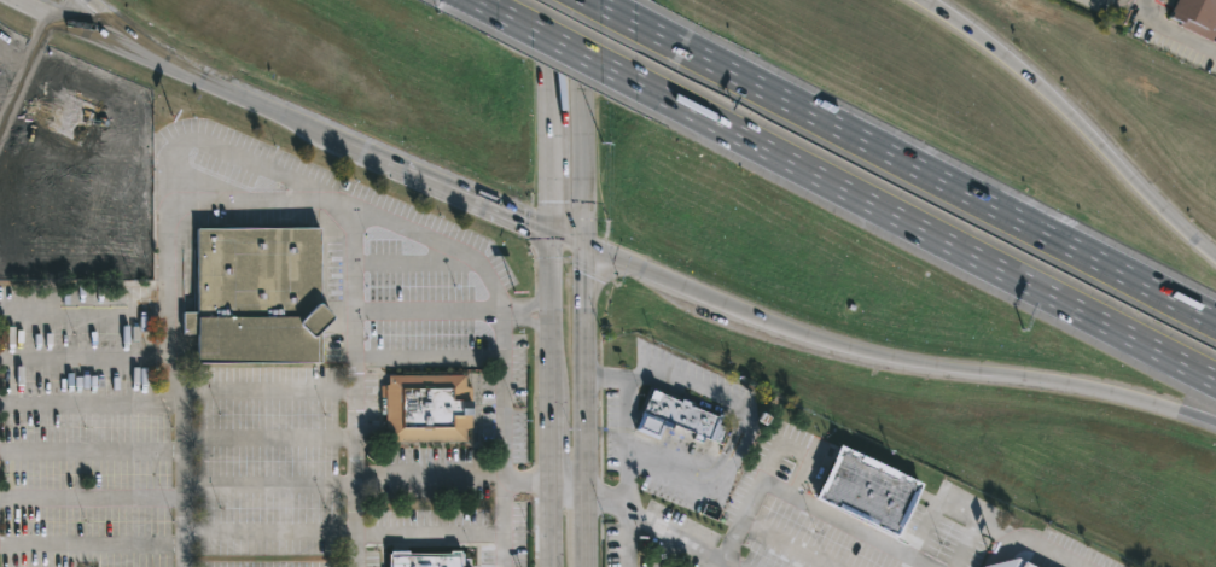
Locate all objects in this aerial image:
road: (93, 5)
road: (488, 5)
road: (34, 7)
road: (615, 11)
building: (1193, 14)
road: (583, 16)
road: (1173, 28)
road: (130, 34)
road: (39, 37)
road: (548, 43)
road: (568, 46)
road: (199, 76)
road: (14, 95)
building: (70, 113)
road: (1076, 122)
road: (120, 131)
road: (192, 141)
road: (547, 158)
road: (926, 171)
road: (465, 195)
traffic signals: (546, 229)
road: (926, 232)
traffic signals: (582, 244)
road: (582, 256)
road: (478, 262)
building: (256, 296)
road: (546, 305)
road: (426, 310)
road: (523, 311)
road: (168, 353)
road: (891, 356)
road: (427, 357)
building: (425, 405)
building: (681, 419)
road: (546, 431)
road: (732, 450)
road: (91, 451)
road: (430, 475)
road: (354, 477)
road: (525, 478)
road: (565, 480)
road: (627, 481)
building: (871, 490)
road: (751, 507)
road: (584, 521)
road: (981, 521)
road: (546, 524)
road: (268, 532)
road: (430, 532)
road: (628, 537)
parking lot: (803, 542)
road: (91, 545)
building: (426, 559)
road: (728, 562)
building: (994, 563)
building: (1024, 563)
road: (586, 565)

